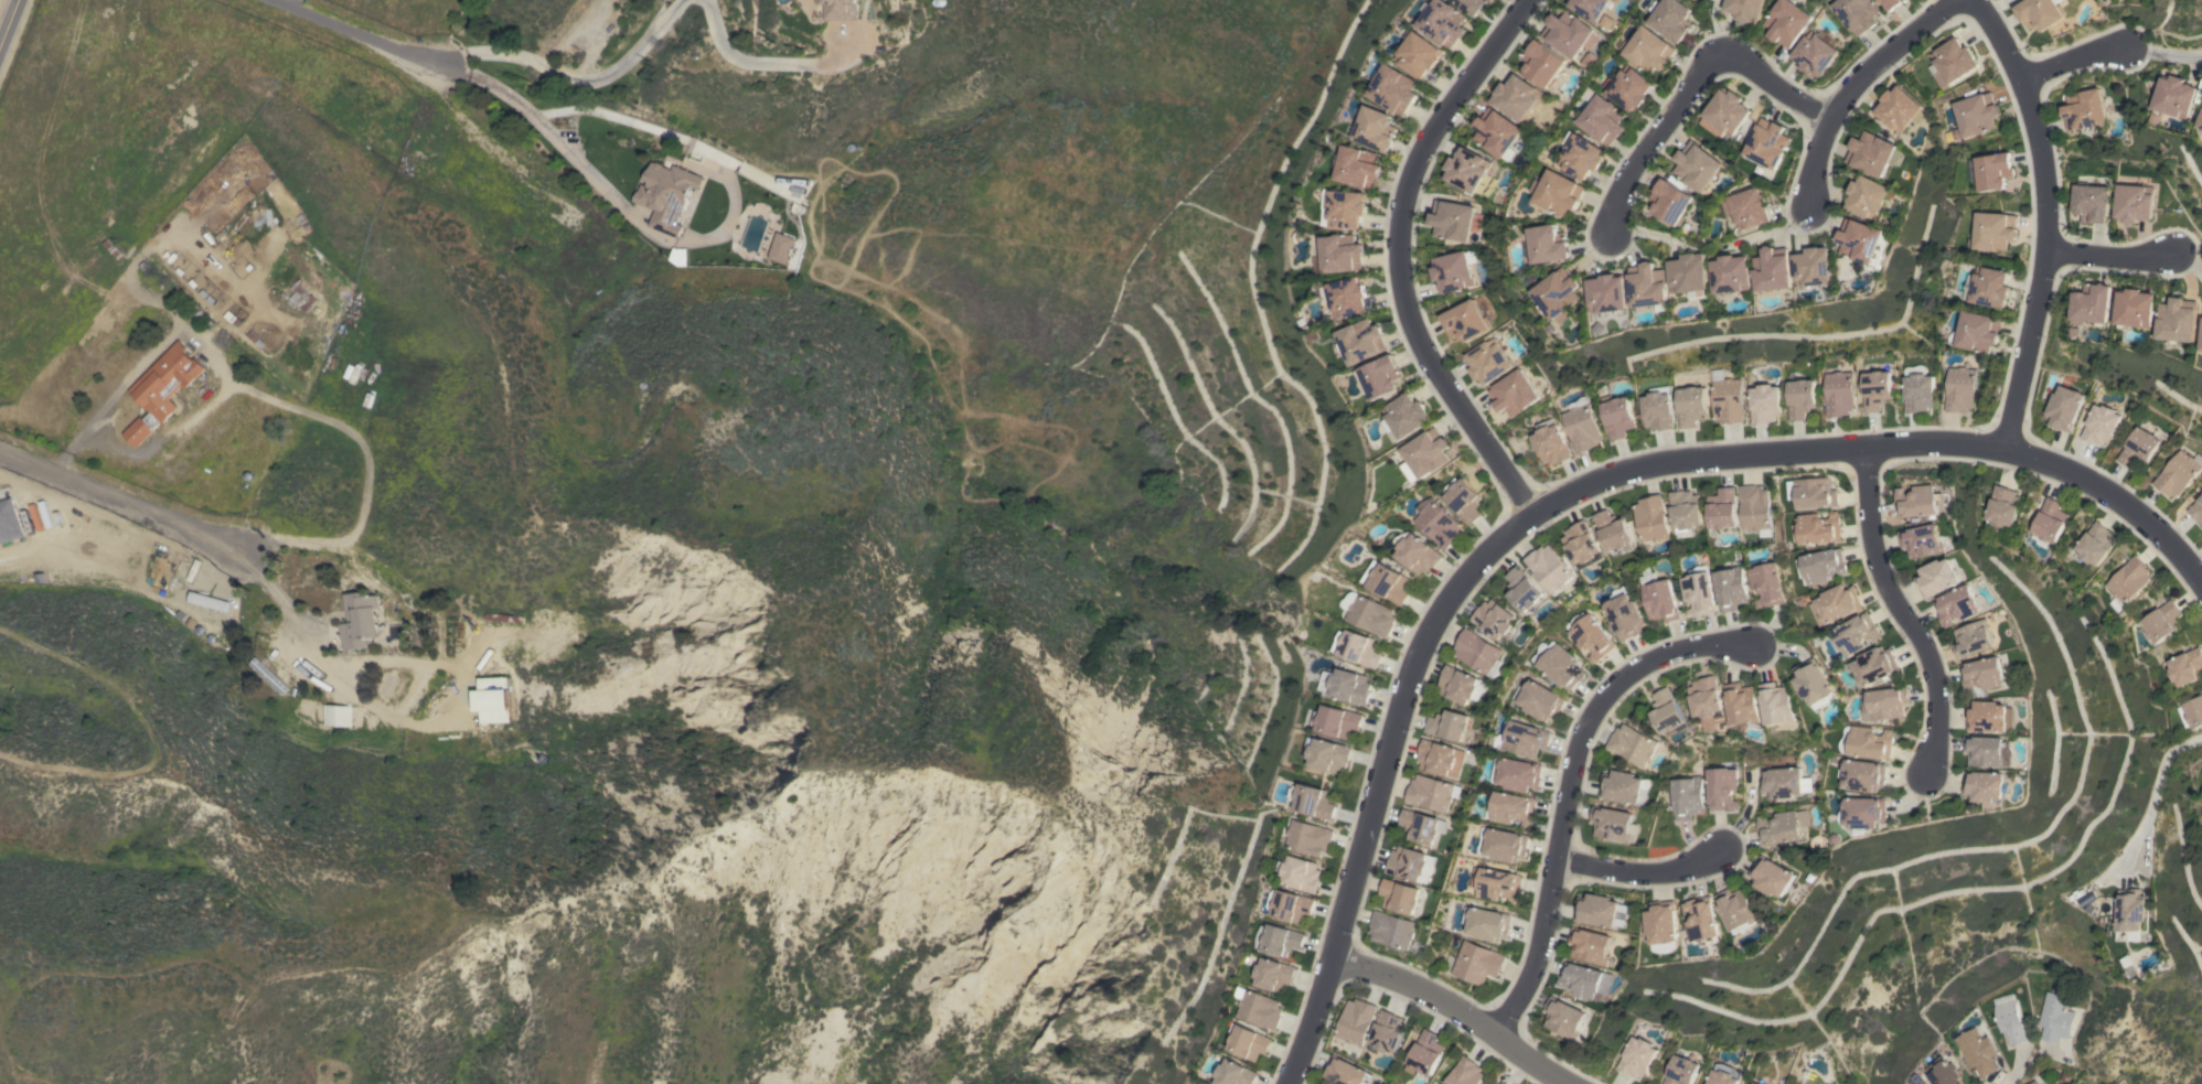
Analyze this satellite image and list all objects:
building: (1695, 0)
building: (1891, 3)
building: (1473, 4)
building: (1589, 8)
road: (1988, 8)
building: (840, 9)
building: (1746, 9)
building: (1857, 13)
building: (2039, 13)
building: (1671, 18)
road: (8, 19)
building: (1444, 22)
building: (1787, 22)
building: (1567, 32)
building: (1647, 51)
building: (1420, 54)
building: (1815, 54)
road: (2072, 57)
road: (738, 60)
building: (1952, 62)
building: (1540, 63)
road: (472, 75)
road: (570, 78)
road: (1857, 83)
building: (1394, 88)
building: (1629, 88)
road: (1693, 89)
building: (2174, 96)
building: (1515, 97)
building: (1900, 108)
building: (2083, 109)
building: (1724, 114)
building: (1975, 115)
building: (1602, 119)
road: (1443, 121)
building: (2200, 122)
building: (1375, 128)
building: (1495, 131)
building: (1767, 142)
building: (1873, 153)
building: (1580, 155)
road: (577, 162)
building: (1356, 167)
building: (1697, 167)
building: (1466, 169)
building: (1989, 171)
building: (1557, 192)
building: (667, 195)
building: (1867, 196)
building: (1669, 202)
building: (2089, 202)
building: (2134, 203)
building: (1747, 208)
building: (1341, 210)
building: (1452, 219)
road: (2040, 219)
road: (1773, 230)
building: (1992, 230)
building: (1863, 242)
building: (1546, 244)
building: (114, 248)
building: (780, 248)
building: (1338, 254)
road: (2105, 257)
road: (2184, 264)
building: (1814, 267)
building: (1772, 269)
building: (1453, 270)
building: (1689, 273)
building: (1731, 273)
building: (1648, 285)
building: (1985, 287)
building: (1608, 293)
building: (1559, 294)
building: (1345, 296)
building: (300, 297)
building: (2092, 304)
building: (2135, 308)
building: (1466, 320)
building: (2177, 320)
building: (1971, 332)
building: (1360, 341)
building: (2201, 343)
building: (1487, 361)
building: (1380, 376)
building: (1916, 388)
building: (162, 389)
building: (1875, 389)
building: (1958, 389)
building: (1514, 393)
building: (1838, 393)
road: (1456, 395)
building: (1798, 398)
building: (1727, 400)
building: (1763, 403)
building: (1689, 405)
building: (2062, 408)
building: (1657, 410)
road: (314, 417)
building: (1403, 417)
building: (1617, 417)
building: (2099, 423)
building: (1581, 425)
road: (161, 439)
building: (1551, 442)
building: (2137, 447)
road: (68, 450)
building: (1424, 454)
building: (2177, 473)
road: (1580, 493)
building: (1811, 493)
building: (1463, 498)
building: (1920, 501)
building: (2002, 507)
building: (1723, 508)
building: (1756, 508)
building: (2196, 509)
building: (1685, 512)
building: (1650, 519)
building: (1437, 522)
building: (2049, 523)
building: (1816, 528)
building: (1612, 530)
road: (190, 533)
building: (1922, 540)
building: (2095, 544)
building: (1582, 545)
building: (1417, 551)
road: (2191, 559)
building: (1819, 566)
building: (1549, 568)
building: (1937, 577)
building: (1767, 582)
building: (1391, 583)
building: (2126, 583)
building: (1731, 588)
building: (1524, 589)
building: (1699, 591)
building: (1658, 598)
building: (1835, 603)
building: (1959, 603)
road: (1900, 610)
building: (1371, 613)
building: (1623, 613)
building: (501, 618)
building: (1495, 619)
building: (359, 620)
building: (2157, 623)
building: (1854, 633)
building: (1590, 635)
building: (1974, 638)
building: (1359, 647)
building: (1479, 653)
building: (1558, 664)
building: (1874, 665)
building: (2185, 667)
building: (1984, 674)
building: (267, 676)
building: (1814, 683)
building: (1461, 685)
building: (1349, 686)
road: (460, 694)
building: (1707, 698)
building: (492, 700)
building: (1538, 700)
building: (1776, 702)
building: (1884, 702)
building: (1742, 704)
building: (1667, 711)
building: (2191, 712)
building: (335, 716)
building: (1991, 717)
building: (1338, 721)
building: (1449, 725)
building: (1521, 738)
building: (1867, 742)
building: (1633, 744)
building: (1989, 751)
building: (1330, 755)
building: (1440, 758)
building: (2201, 770)
building: (1516, 773)
building: (1864, 775)
building: (1784, 782)
road: (1570, 784)
building: (1988, 786)
building: (1625, 787)
building: (1722, 788)
building: (1432, 792)
road: (2153, 792)
building: (1687, 797)
building: (1312, 801)
building: (1510, 808)
building: (1864, 813)
building: (1614, 824)
building: (1422, 826)
building: (1782, 827)
building: (1305, 838)
building: (1504, 844)
building: (1411, 863)
building: (1298, 873)
road: (1637, 873)
building: (1773, 877)
building: (1495, 883)
building: (1400, 895)
building: (1287, 904)
building: (1596, 910)
building: (1740, 910)
building: (2132, 915)
building: (1704, 921)
building: (1485, 923)
building: (1664, 925)
building: (1393, 930)
building: (1276, 940)
building: (1590, 945)
building: (1476, 963)
building: (1273, 975)
building: (1582, 979)
building: (1257, 1008)
road: (1456, 1012)
building: (2055, 1016)
building: (1564, 1017)
building: (2010, 1020)
building: (1356, 1021)
building: (1387, 1032)
building: (1247, 1042)
building: (1973, 1050)
building: (1425, 1053)
building: (1637, 1056)
road: (2027, 1063)
building: (1680, 1071)
building: (1465, 1072)
building: (1939, 1072)
building: (1233, 1073)
building: (1347, 1073)
building: (1723, 1074)
building: (2033, 1082)
building: (1196, 1083)
building: (1501, 1083)
building: (1754, 1083)

